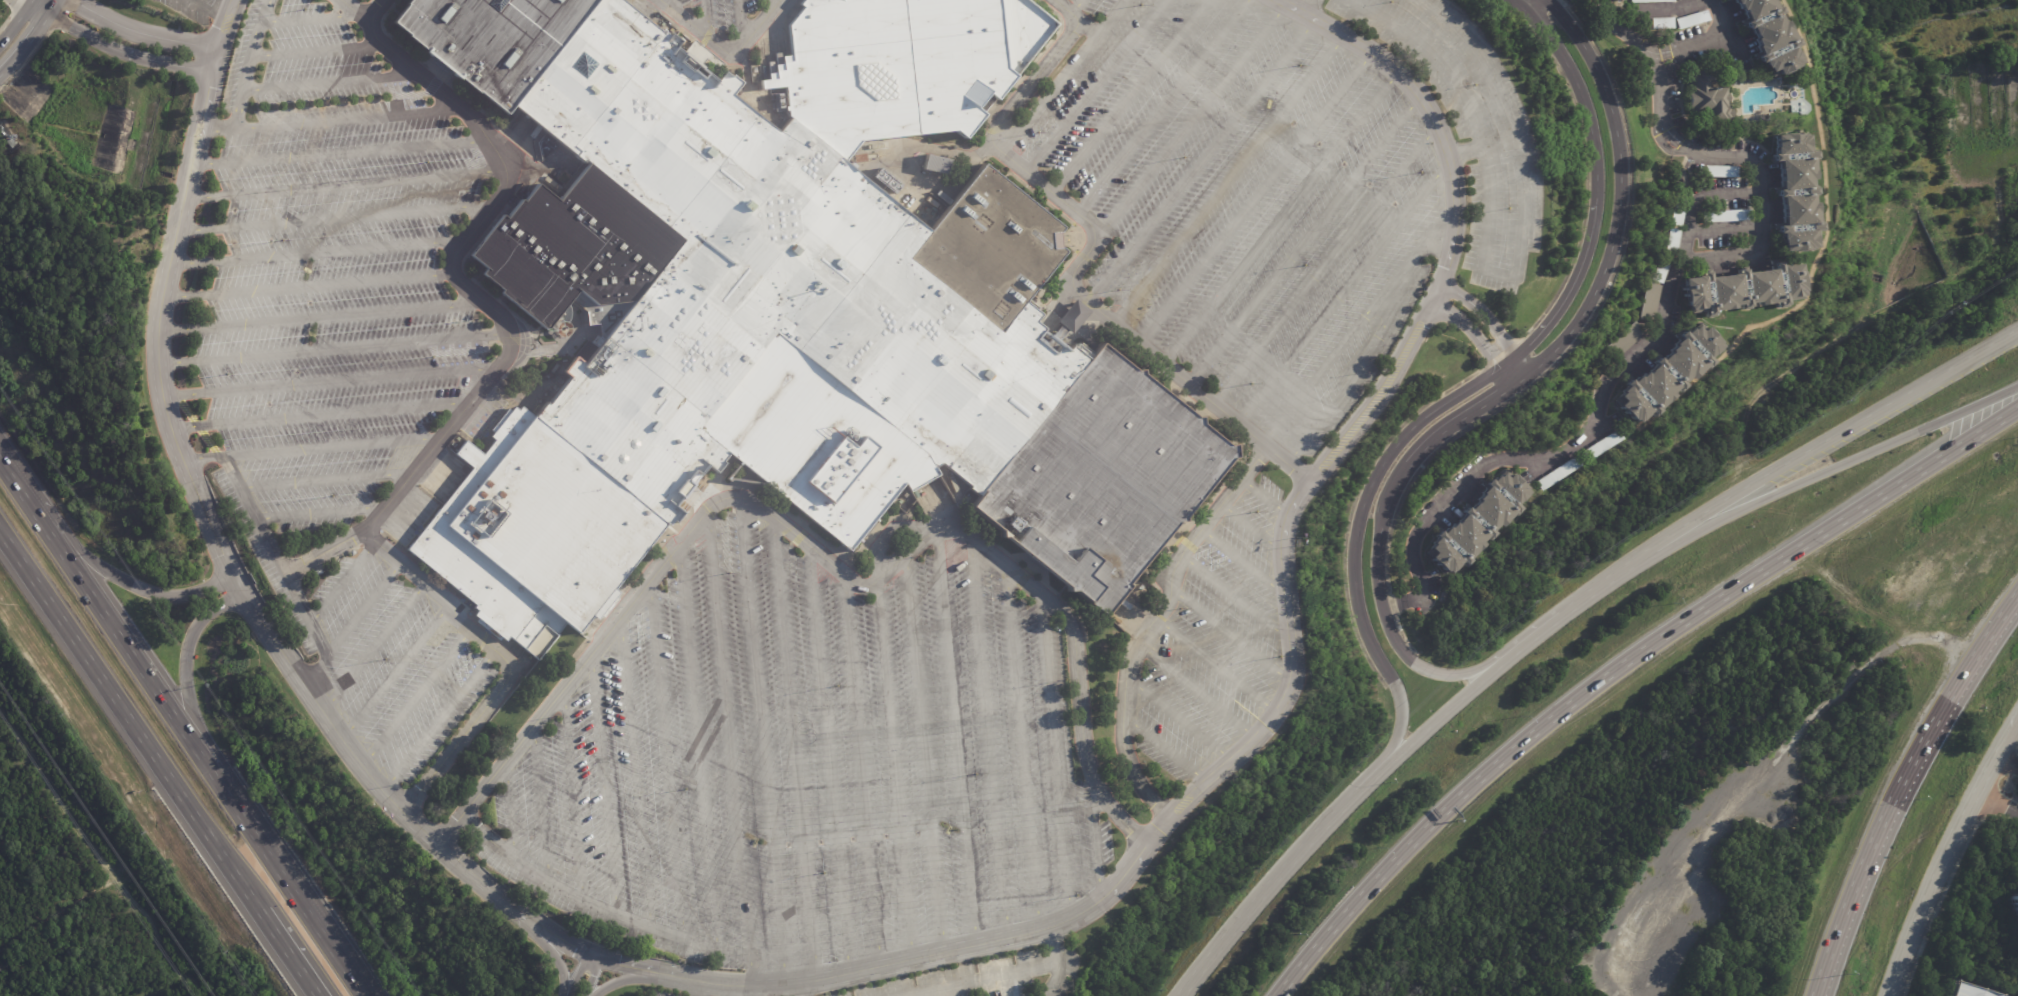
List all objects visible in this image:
road: (390, 0)
building: (1729, 0)
road: (1202, 1)
road: (1204, 1)
building: (1650, 1)
road: (674, 2)
road: (27, 4)
road: (35, 4)
road: (1531, 4)
road: (1668, 5)
road: (1076, 7)
road: (1307, 8)
parking lot: (192, 9)
road: (206, 10)
road: (265, 11)
road: (380, 13)
parking lot: (721, 13)
road: (706, 15)
road: (736, 17)
road: (308, 18)
road: (1073, 18)
road: (1109, 18)
building: (1692, 19)
building: (1662, 23)
road: (16, 31)
road: (138, 32)
road: (1729, 34)
building: (1769, 35)
road: (219, 36)
road: (1698, 39)
road: (726, 44)
road: (116, 51)
road: (316, 51)
road: (1670, 66)
road: (244, 74)
road: (327, 83)
road: (1094, 85)
road: (1029, 87)
road: (1048, 93)
building: (1708, 96)
road: (1127, 97)
road: (1423, 106)
road: (1160, 108)
road: (1467, 110)
road: (345, 119)
road: (1191, 120)
road: (1507, 123)
parking lot: (1470, 128)
road: (215, 129)
road: (1480, 150)
road: (338, 153)
road: (1199, 163)
building: (941, 165)
building: (1721, 172)
road: (1225, 180)
building: (1678, 180)
building: (886, 181)
road: (342, 185)
building: (1797, 193)
road: (1252, 198)
parking lot: (1244, 202)
building: (1679, 213)
building: (1727, 217)
road: (1278, 218)
road: (332, 219)
road: (1724, 226)
road: (1428, 237)
road: (1302, 241)
building: (1675, 242)
building: (569, 249)
road: (1750, 251)
road: (313, 253)
road: (453, 263)
road: (1324, 266)
road: (166, 267)
building: (1663, 272)
road: (1496, 274)
parking lot: (327, 275)
road: (305, 287)
building: (1744, 289)
road: (1343, 293)
building: (1651, 302)
road: (1667, 306)
building: (796, 313)
building: (1072, 316)
road: (321, 318)
road: (1490, 322)
road: (1111, 324)
road: (1475, 339)
building: (1625, 341)
road: (333, 348)
road: (557, 348)
road: (1331, 357)
road: (1361, 370)
building: (1668, 374)
road: (1524, 376)
road: (1485, 377)
road: (330, 384)
road: (320, 417)
road: (1834, 436)
road: (330, 447)
building: (1600, 447)
road: (1835, 467)
building: (1557, 475)
road: (19, 481)
road: (323, 481)
road: (241, 497)
road: (1263, 497)
road: (316, 513)
building: (1476, 524)
road: (1250, 528)
road: (814, 550)
road: (319, 552)
road: (1245, 563)
road: (233, 576)
road: (1608, 581)
road: (126, 582)
road: (342, 583)
road: (1236, 598)
road: (303, 615)
road: (351, 624)
road: (1150, 627)
road: (1231, 636)
road: (126, 637)
parking lot: (1215, 642)
road: (1524, 646)
road: (372, 650)
road: (505, 657)
parking lot: (392, 663)
road: (1216, 666)
road: (183, 667)
road: (1619, 667)
building: (1849, 667)
road: (394, 673)
road: (1197, 692)
road: (416, 697)
road: (1440, 717)
road: (1179, 719)
road: (439, 720)
road: (127, 725)
road: (988, 737)
road: (956, 740)
road: (761, 741)
road: (697, 746)
road: (794, 747)
road: (1021, 747)
road: (729, 748)
road: (348, 749)
road: (1165, 749)
road: (924, 753)
road: (2017, 753)
road: (1054, 754)
road: (2007, 758)
road: (666, 760)
road: (828, 760)
parking lot: (805, 764)
road: (2014, 766)
road: (894, 769)
road: (634, 772)
road: (862, 772)
road: (603, 783)
road: (2005, 783)
road: (1901, 785)
road: (572, 795)
road: (1996, 801)
road: (1997, 801)
road: (540, 806)
road: (509, 812)
road: (1095, 839)
road: (1147, 845)
road: (1947, 853)
road: (465, 868)
road: (1282, 871)
road: (290, 880)
road: (1941, 898)
building: (2015, 903)
road: (593, 906)
road: (281, 955)
road: (552, 958)
road: (1057, 961)
road: (573, 975)
parking lot: (990, 976)
road: (593, 977)
road: (636, 981)
road: (999, 983)
road: (694, 988)
road: (799, 991)
building: (1967, 991)
parking lot: (656, 993)

